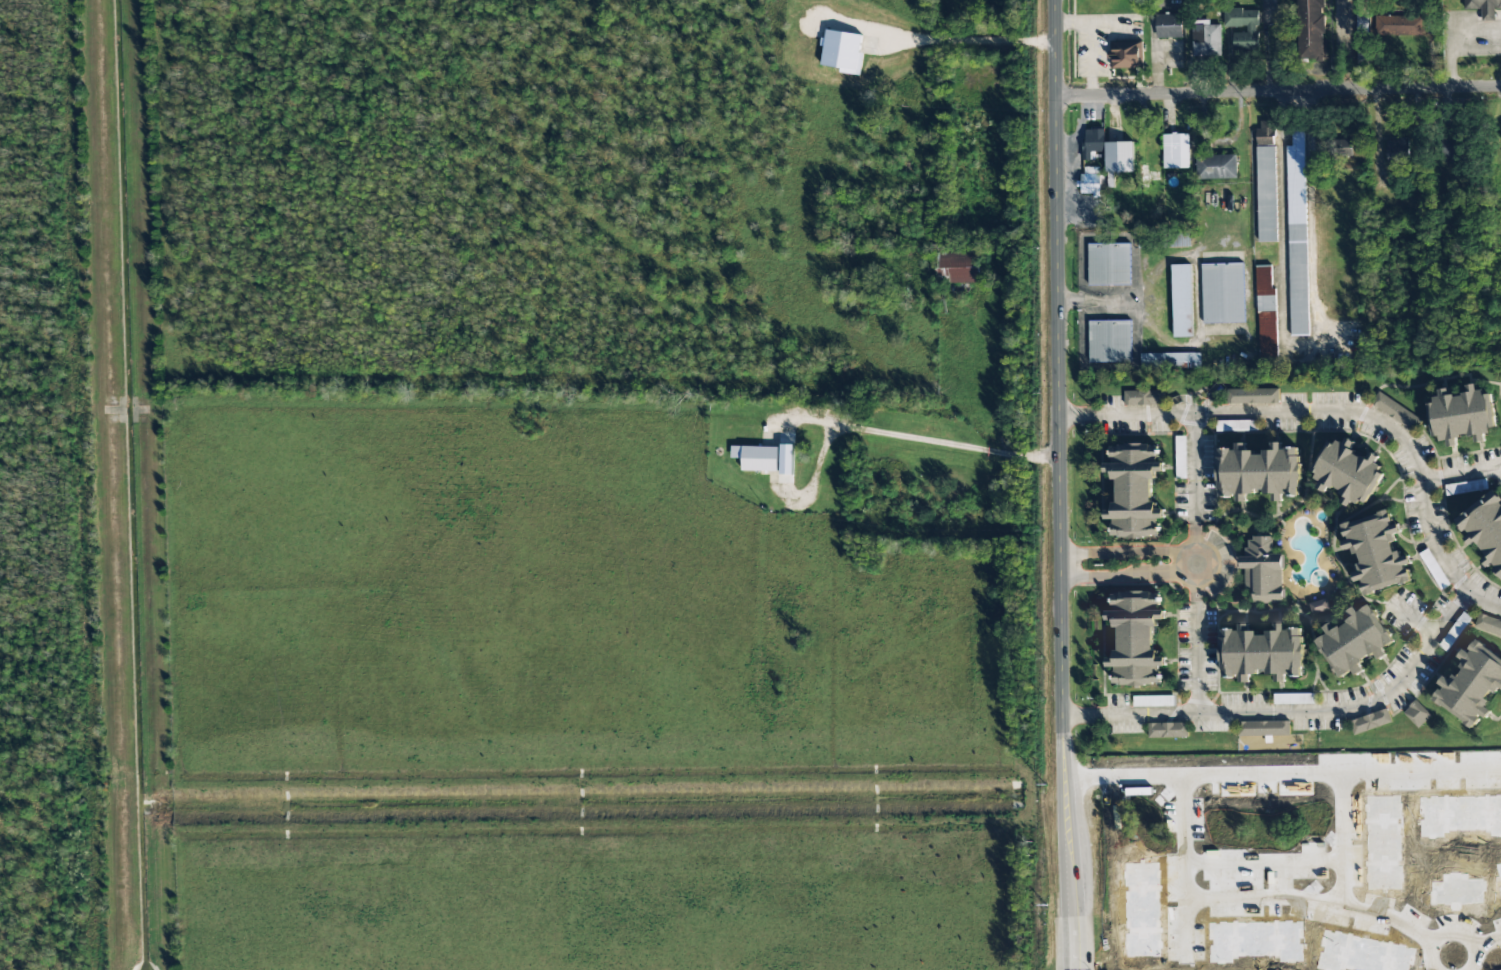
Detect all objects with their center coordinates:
building: (1484, 7)
building: (1169, 25)
building: (1399, 25)
building: (1251, 29)
building: (1312, 29)
building: (1362, 31)
building: (1206, 40)
building: (843, 52)
building: (1125, 54)
road: (1277, 91)
building: (1175, 146)
building: (1453, 147)
building: (1341, 148)
building: (1398, 150)
building: (1108, 151)
building: (1216, 166)
building: (1378, 179)
building: (1266, 181)
building: (1090, 182)
road: (1055, 194)
building: (1164, 239)
building: (1297, 241)
building: (958, 263)
building: (1109, 264)
building: (1223, 293)
building: (1181, 300)
building: (1266, 313)
building: (1110, 341)
building: (1166, 360)
building: (1252, 396)
building: (1144, 397)
building: (1396, 411)
road: (1339, 414)
building: (1464, 414)
building: (1236, 425)
road: (887, 439)
building: (757, 457)
building: (786, 459)
building: (1260, 470)
building: (1350, 470)
building: (1135, 490)
building: (1485, 527)
road: (1126, 550)
building: (1378, 551)
road: (1194, 562)
building: (1262, 569)
road: (1127, 574)
building: (1319, 606)
building: (1488, 624)
building: (1136, 638)
building: (1357, 639)
building: (1263, 651)
road: (1060, 678)
building: (1474, 685)
building: (1152, 701)
road: (1289, 711)
building: (1417, 714)
building: (1370, 721)
building: (1263, 728)
building: (1168, 730)

